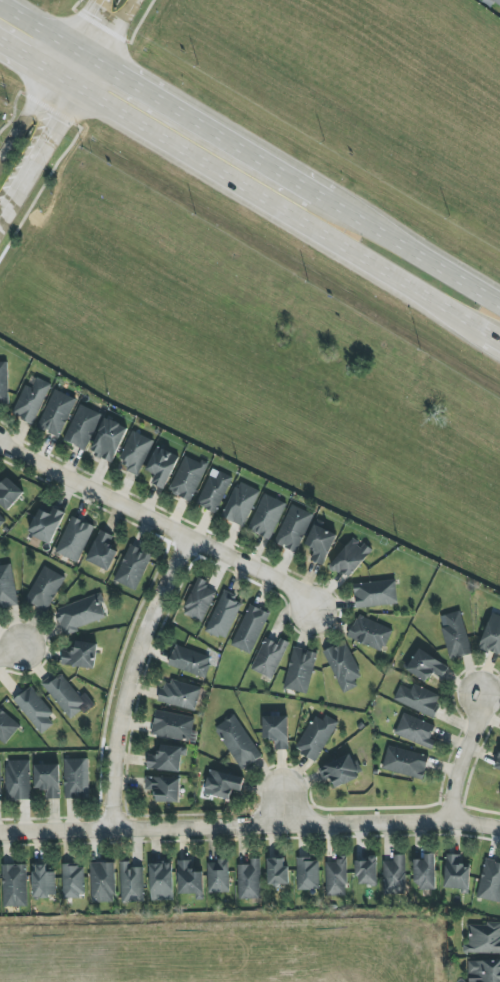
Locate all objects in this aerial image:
building: (496, 1)
road: (47, 34)
road: (26, 56)
road: (48, 78)
road: (66, 110)
road: (209, 131)
road: (269, 203)
road: (366, 224)
road: (454, 277)
road: (493, 338)
building: (3, 383)
building: (31, 399)
building: (56, 413)
building: (82, 427)
building: (108, 440)
building: (135, 452)
building: (162, 466)
building: (188, 478)
building: (214, 491)
building: (9, 493)
building: (241, 504)
building: (267, 516)
building: (2, 520)
building: (46, 523)
road: (157, 525)
building: (294, 528)
building: (0, 533)
building: (74, 539)
building: (321, 543)
building: (102, 551)
building: (351, 558)
building: (133, 567)
building: (7, 587)
building: (45, 588)
building: (375, 593)
building: (199, 601)
building: (80, 614)
building: (224, 615)
building: (250, 629)
building: (370, 633)
building: (492, 635)
building: (456, 636)
road: (8, 650)
building: (81, 655)
building: (269, 657)
building: (190, 661)
building: (426, 666)
building: (343, 668)
building: (300, 670)
road: (128, 677)
building: (64, 694)
building: (180, 695)
building: (418, 699)
building: (35, 710)
building: (172, 726)
building: (7, 727)
building: (276, 731)
building: (416, 731)
building: (316, 737)
building: (238, 742)
road: (462, 756)
building: (165, 759)
building: (406, 762)
building: (340, 770)
building: (76, 778)
building: (18, 780)
building: (48, 780)
building: (0, 783)
building: (222, 784)
building: (164, 788)
road: (279, 806)
road: (250, 823)
building: (366, 871)
building: (277, 872)
building: (426, 873)
building: (456, 873)
building: (307, 874)
building: (395, 875)
building: (218, 876)
building: (336, 878)
building: (189, 879)
building: (249, 880)
building: (73, 881)
building: (43, 882)
building: (102, 882)
building: (161, 882)
building: (490, 882)
building: (131, 883)
building: (14, 885)
building: (483, 939)
building: (484, 971)

